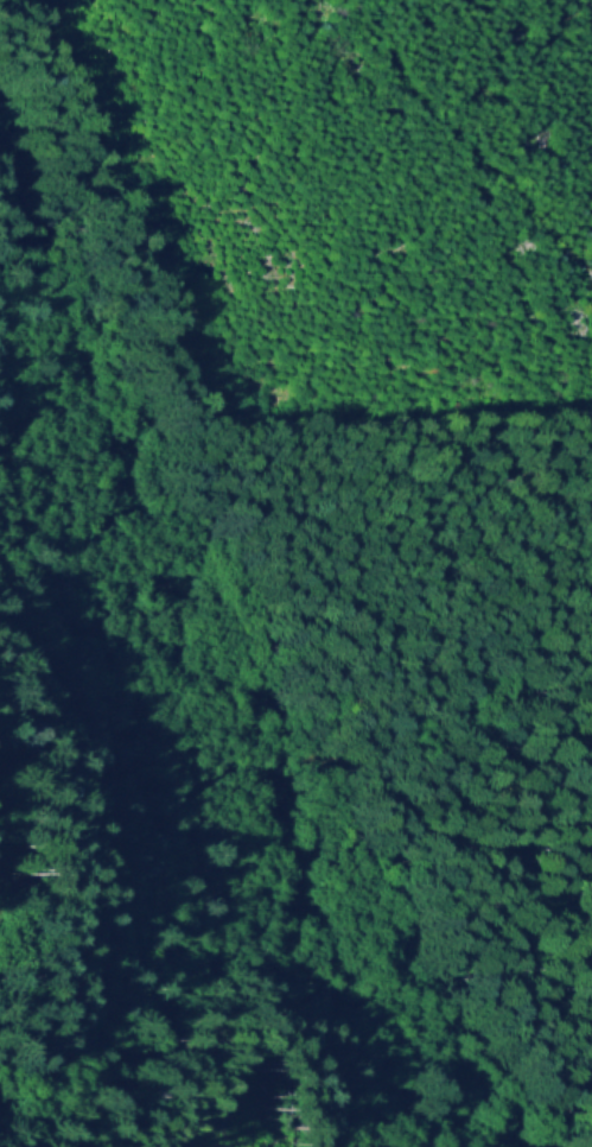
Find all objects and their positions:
road: (466, 147)

